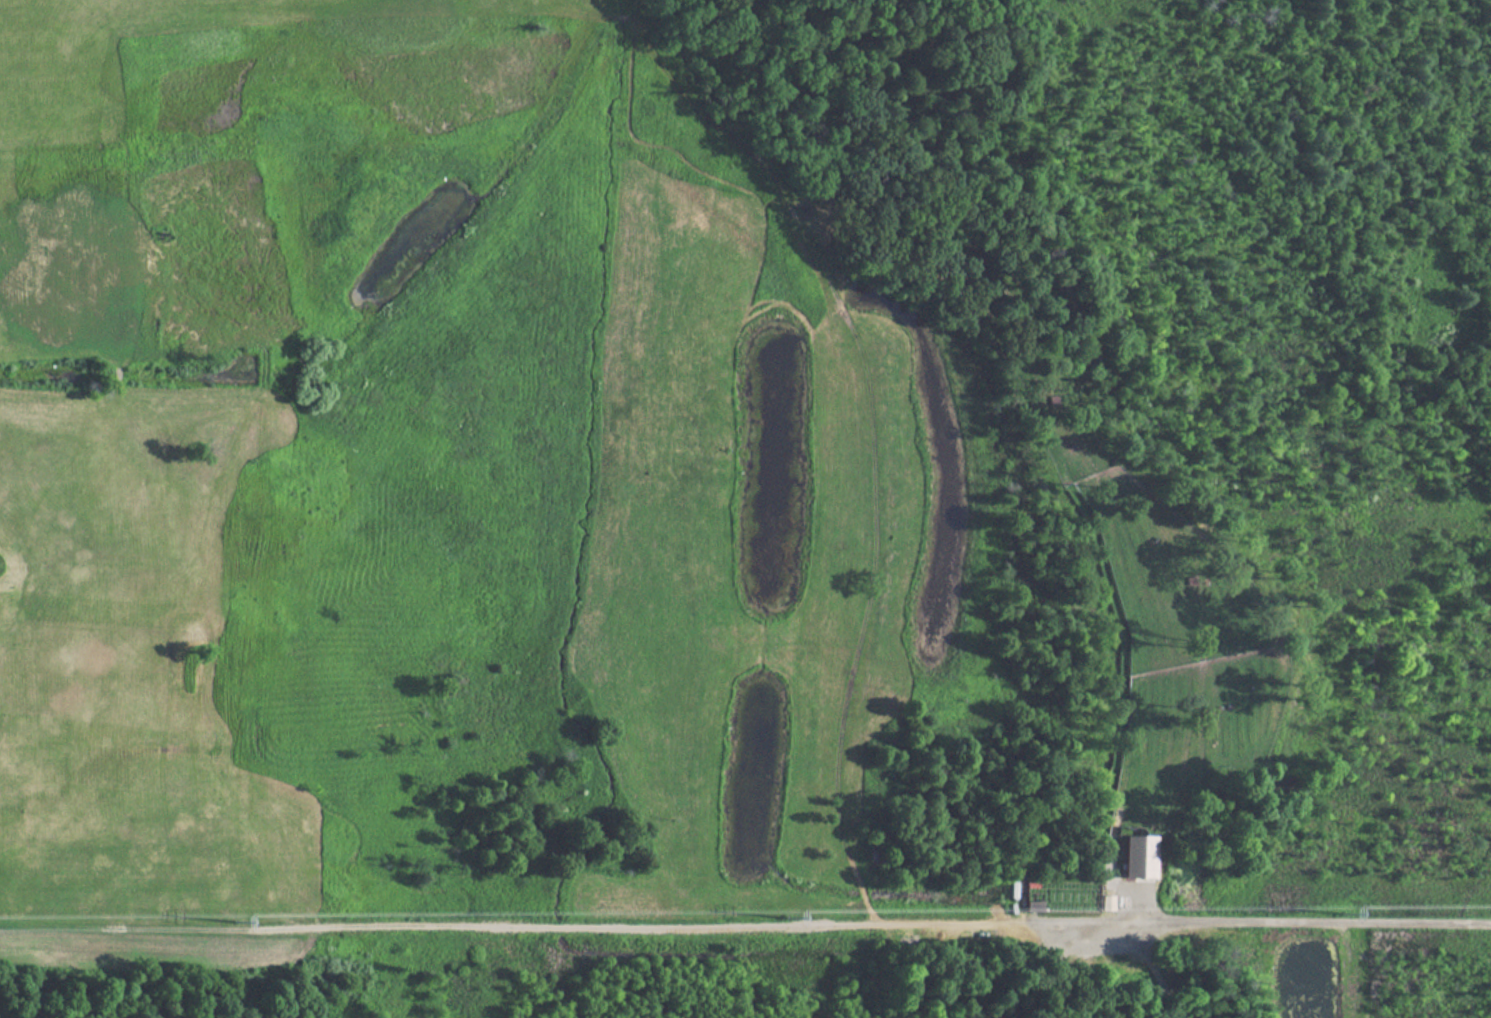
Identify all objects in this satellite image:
building: (1139, 856)
building: (1109, 902)
power tower: (1340, 911)
power tower: (785, 917)
power tower: (237, 919)
road: (1317, 926)

